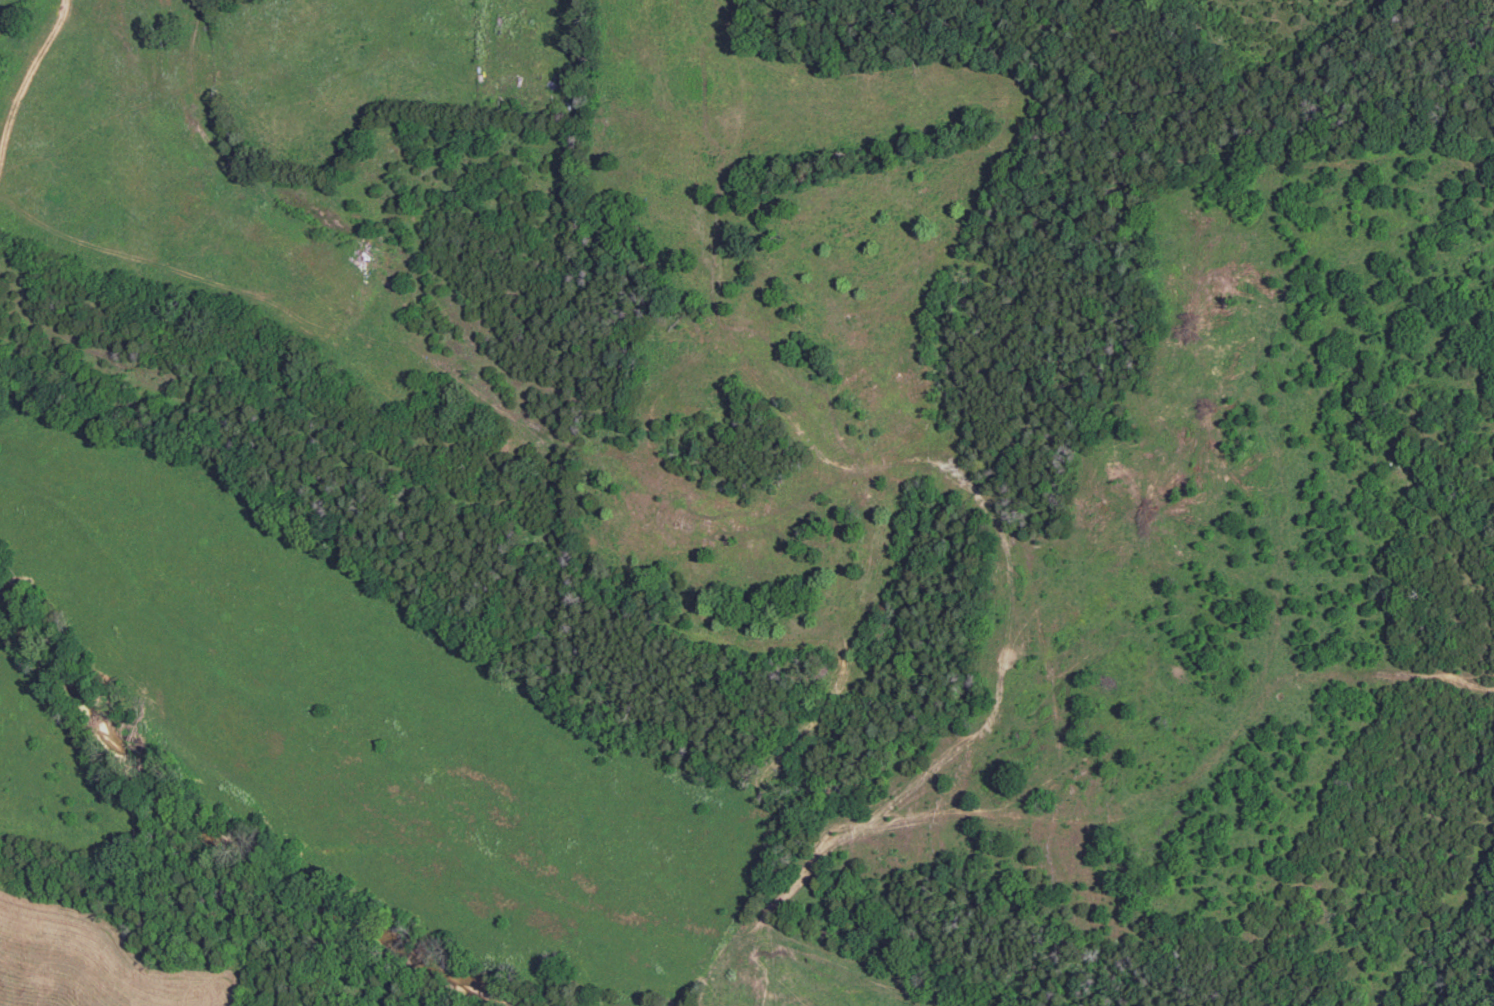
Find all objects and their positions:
road: (25, 79)

